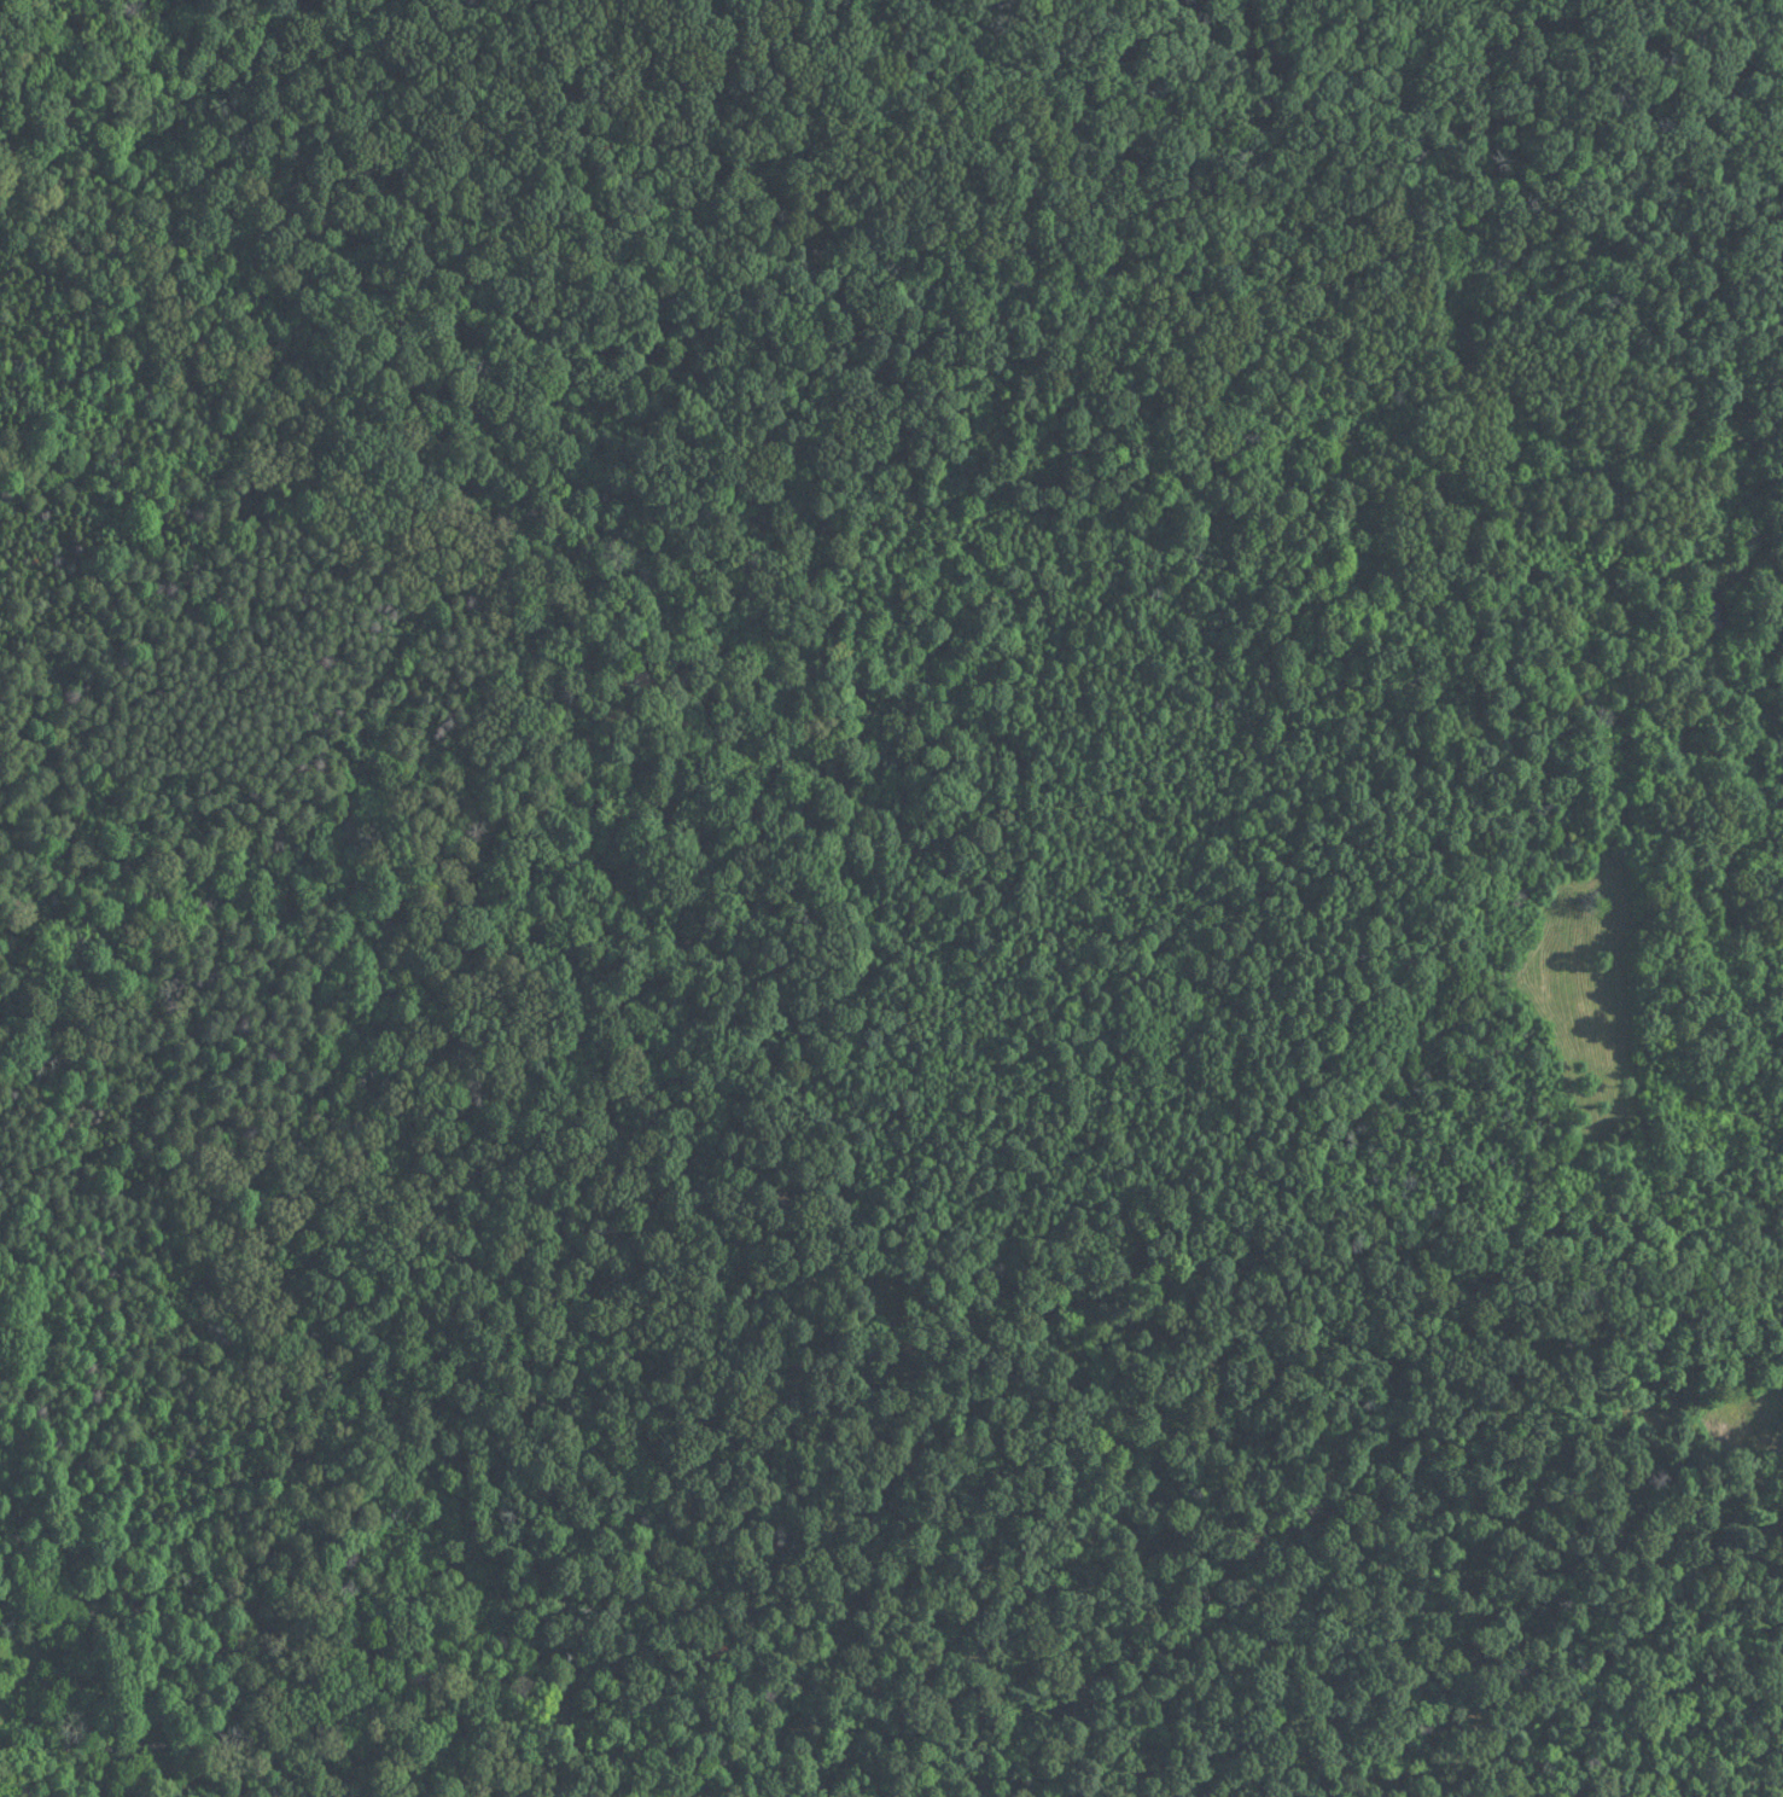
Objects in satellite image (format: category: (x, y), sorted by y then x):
road: (179, 1685)

